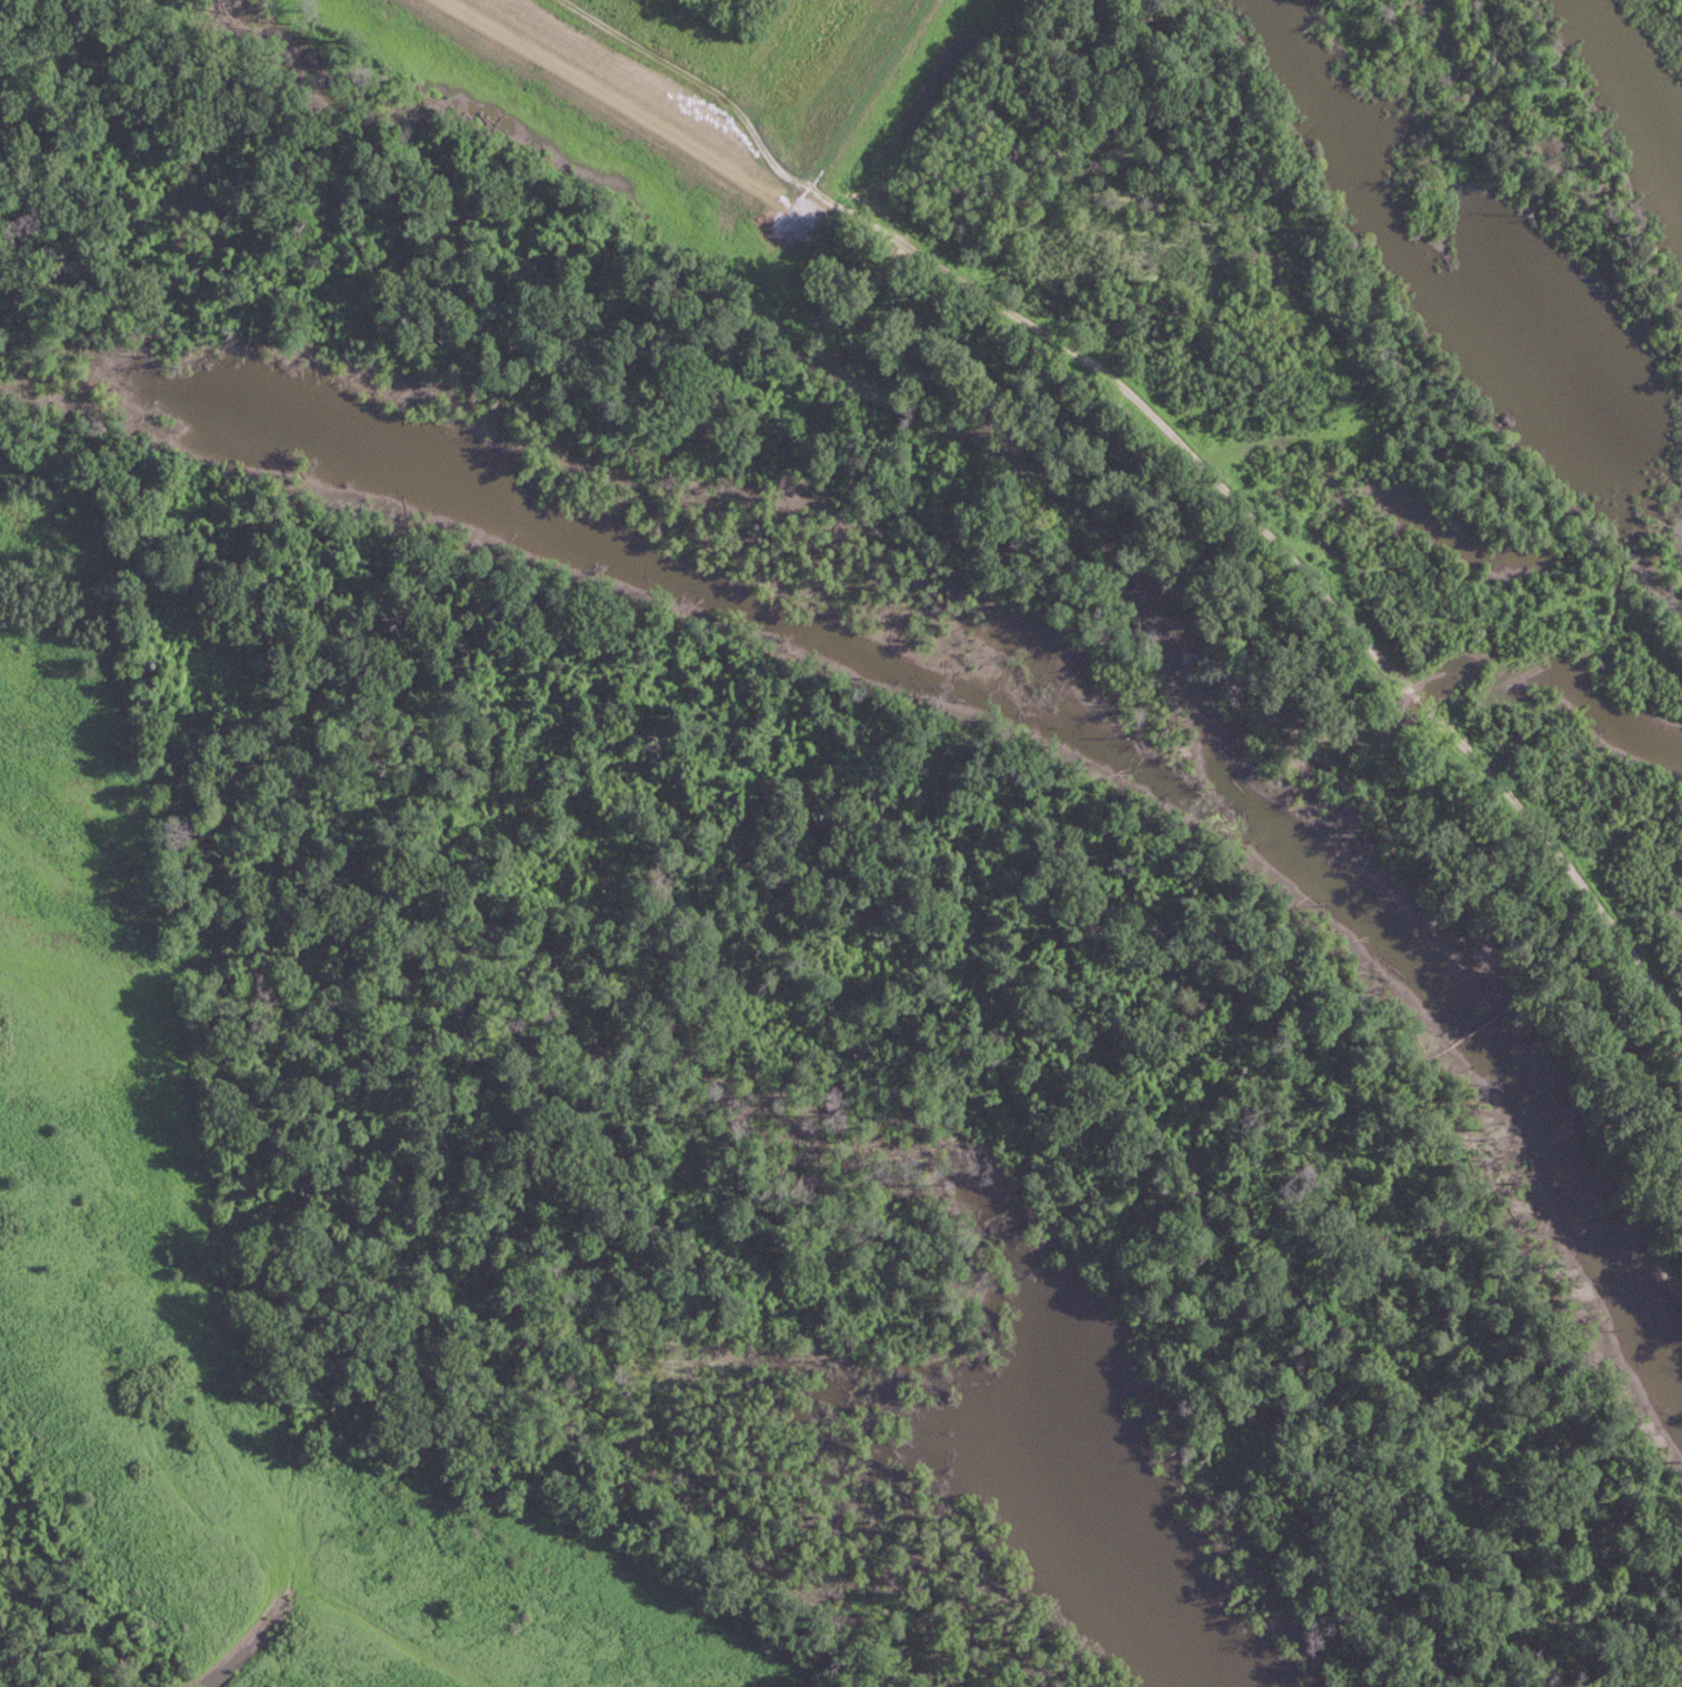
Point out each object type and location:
road: (1199, 450)

